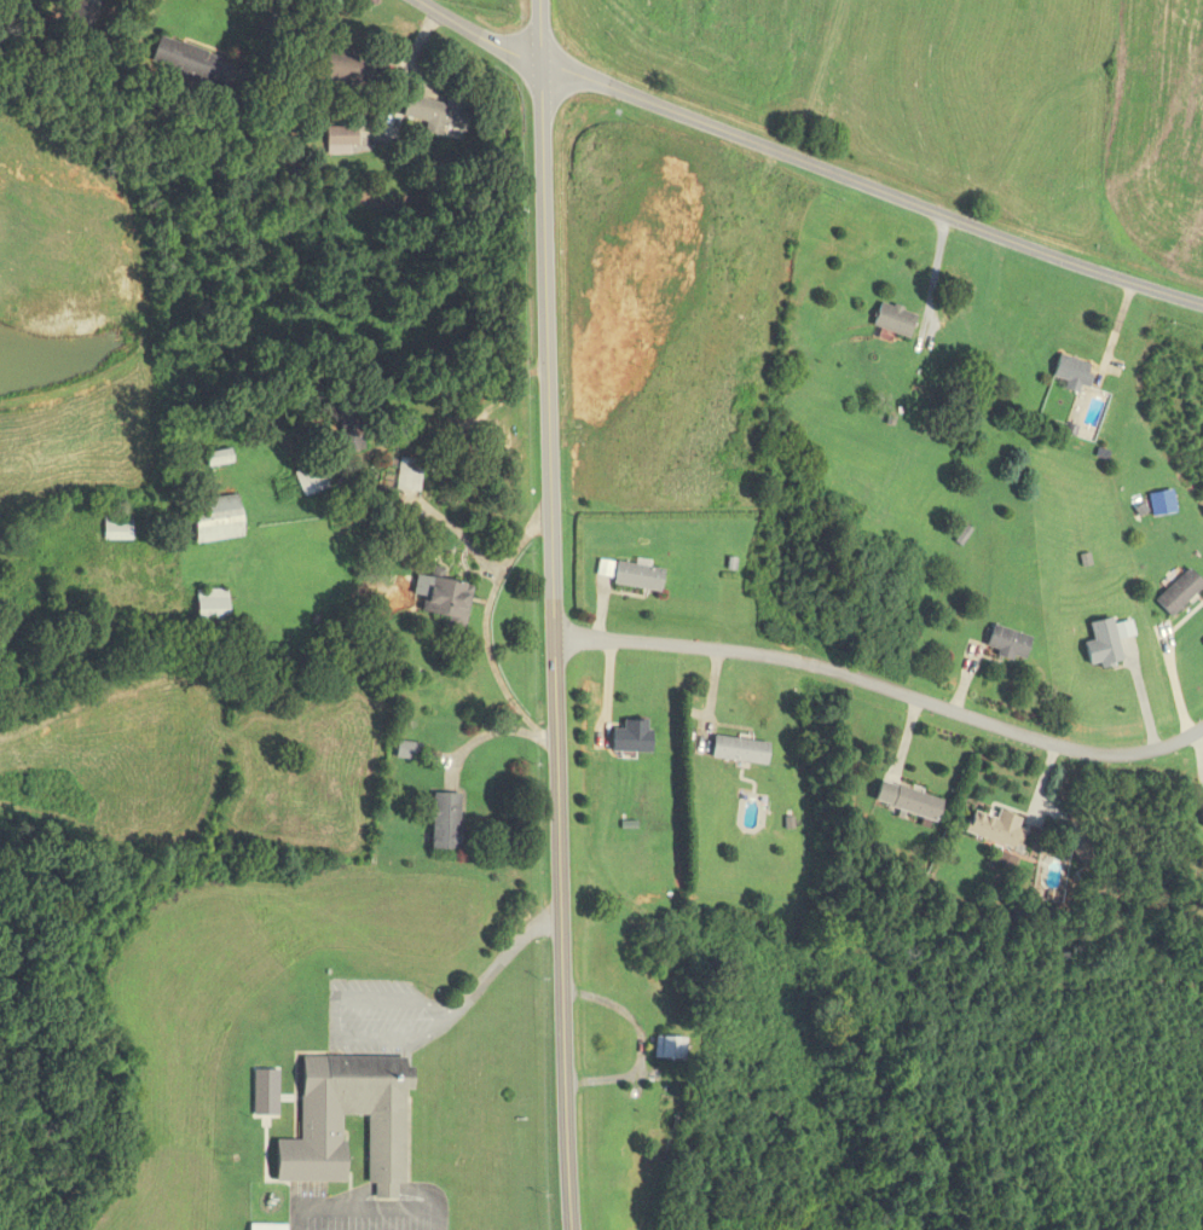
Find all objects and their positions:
road: (261, 45)
building: (187, 62)
building: (347, 69)
road: (400, 72)
building: (439, 115)
building: (342, 137)
road: (803, 166)
crop: (663, 269)
building: (889, 320)
building: (1066, 372)
building: (351, 429)
building: (220, 459)
building: (410, 475)
building: (219, 520)
building: (117, 529)
building: (640, 576)
building: (1174, 592)
building: (447, 598)
building: (213, 605)
road: (551, 615)
road: (482, 627)
building: (1004, 643)
building: (1098, 644)
road: (883, 686)
building: (635, 737)
road: (482, 738)
building: (409, 750)
building: (735, 750)
building: (910, 803)
building: (1198, 814)
building: (446, 822)
building: (991, 829)
building: (1082, 852)
road: (501, 958)
road: (334, 1019)
building: (665, 1049)
building: (324, 1129)
road: (368, 1208)

